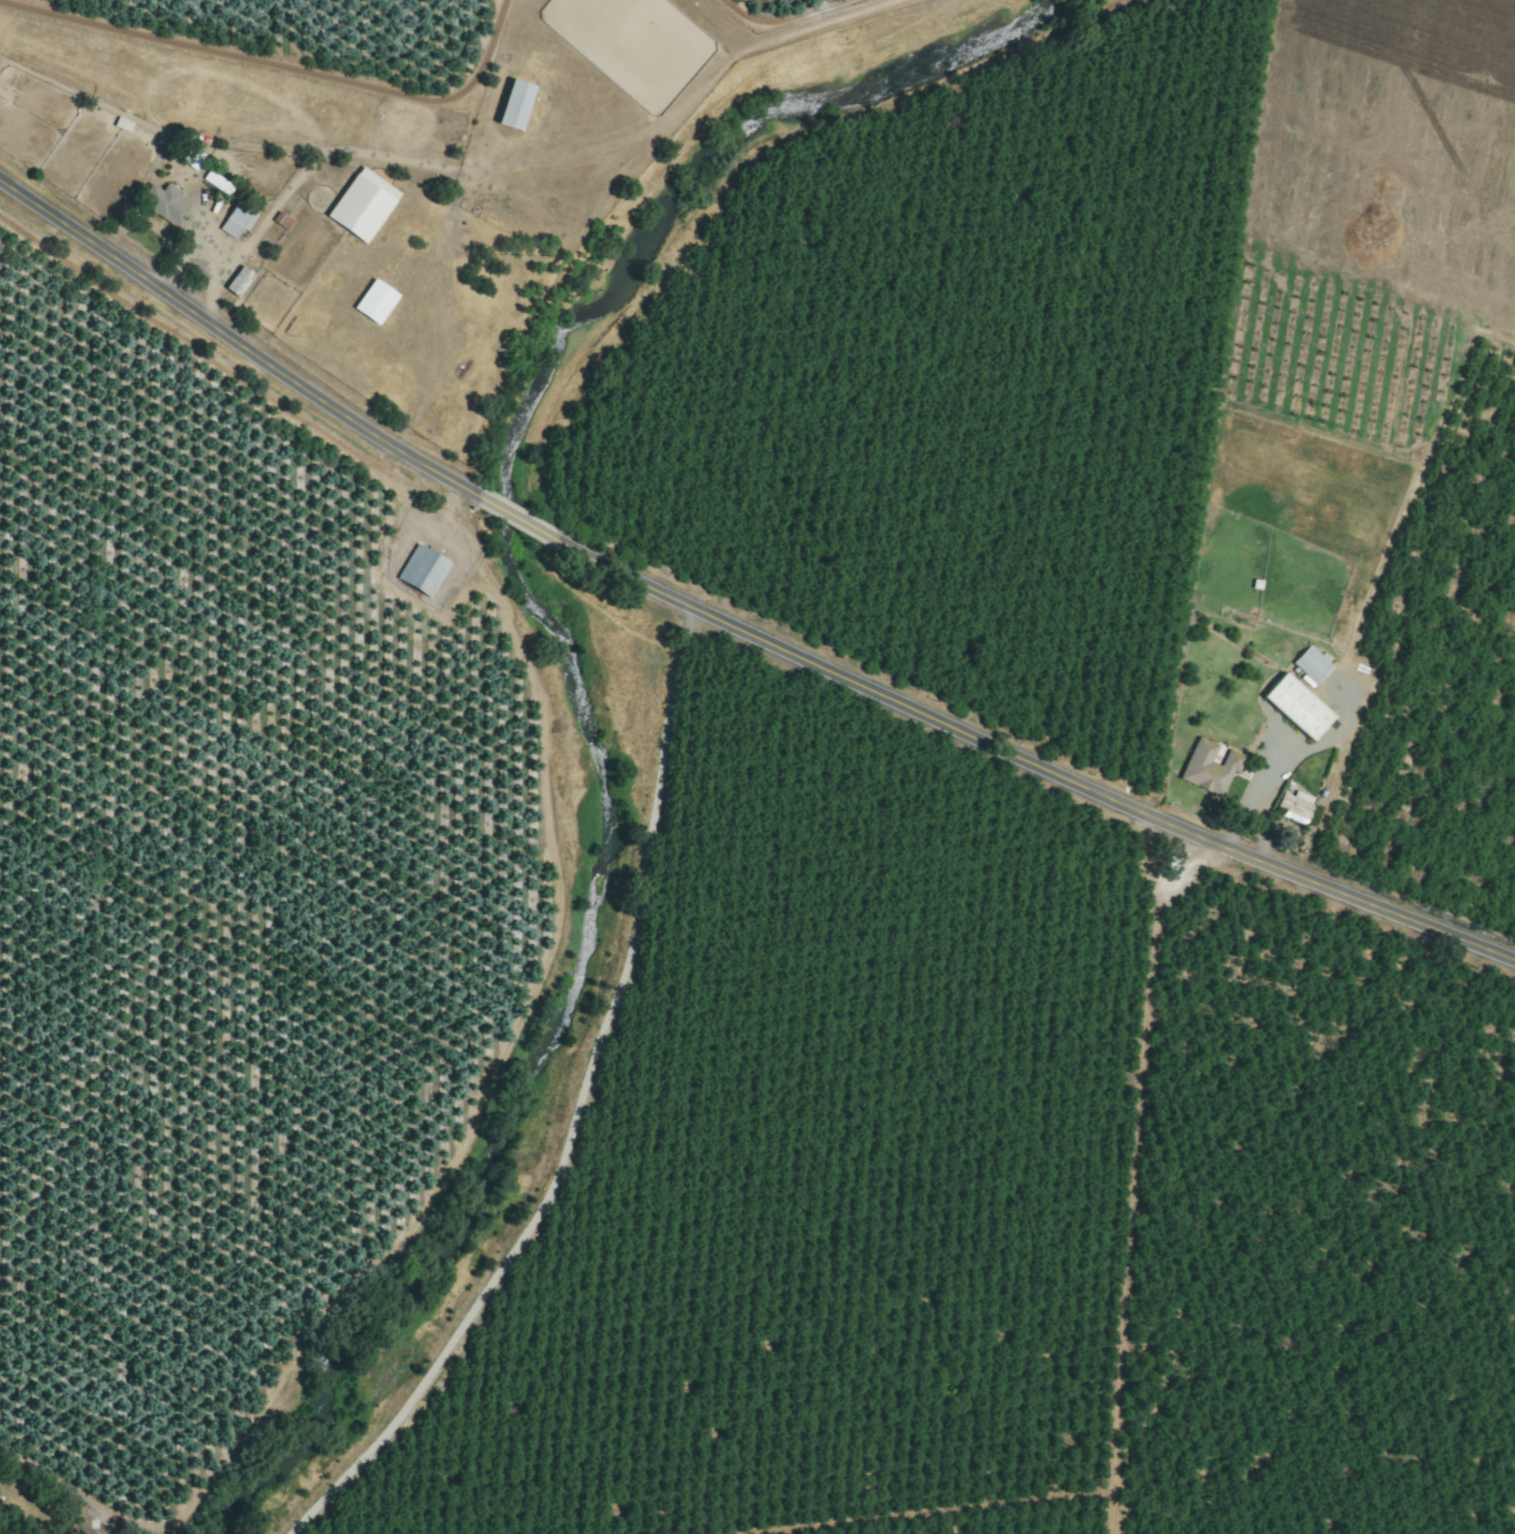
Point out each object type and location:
building: (511, 105)
building: (187, 156)
building: (163, 204)
building: (360, 205)
building: (234, 221)
building: (236, 281)
building: (373, 303)
building: (420, 572)
road: (729, 625)
building: (1310, 665)
building: (1294, 707)
road: (1281, 759)
building: (1207, 768)
building: (1292, 808)
road: (1261, 834)

